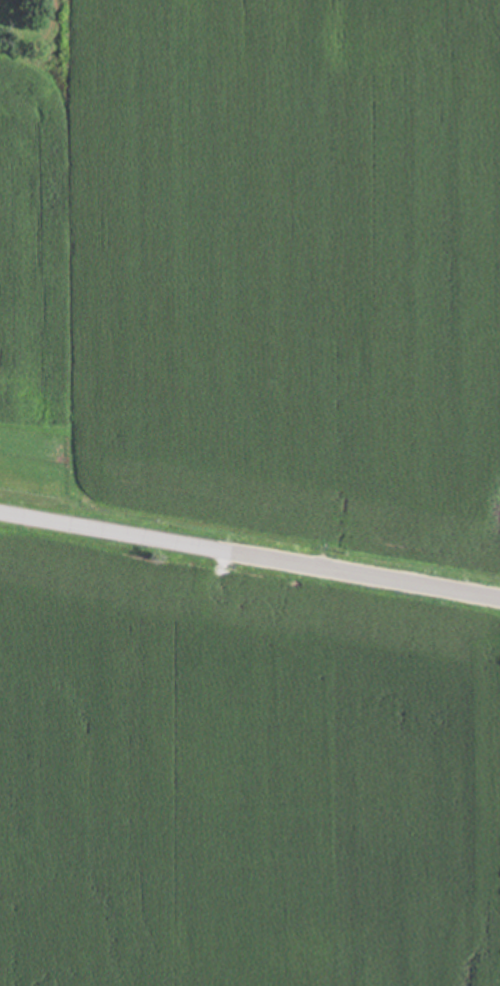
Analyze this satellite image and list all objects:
road: (250, 550)

